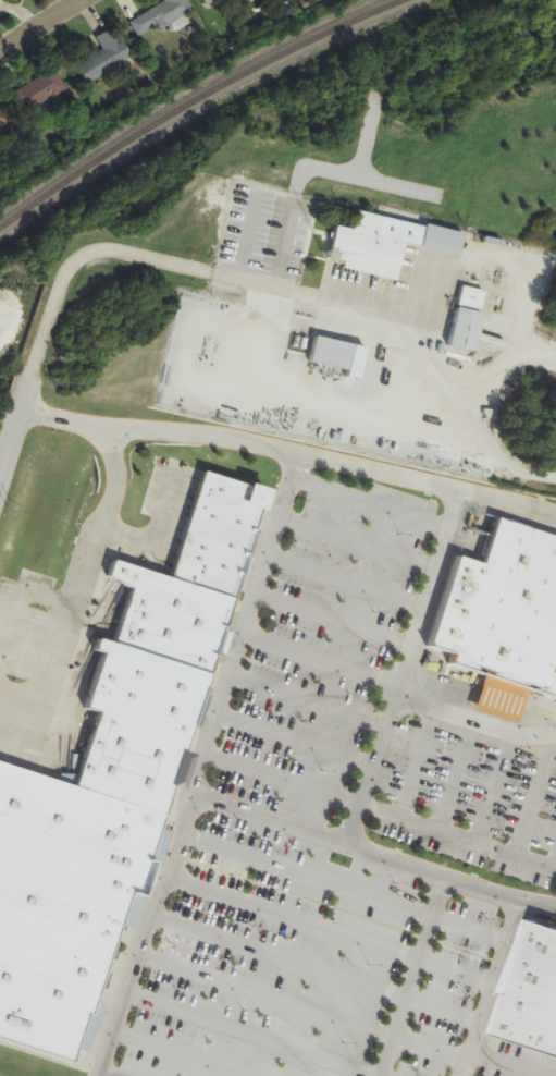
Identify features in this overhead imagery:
building: (210, 2)
building: (162, 16)
road: (39, 25)
building: (107, 57)
building: (40, 91)
railway: (194, 99)
building: (2, 120)
building: (443, 240)
building: (368, 248)
road: (176, 266)
building: (468, 318)
building: (332, 353)
road: (9, 439)
road: (289, 450)
building: (226, 546)
road: (84, 583)
building: (505, 610)
building: (180, 634)
road: (397, 694)
building: (157, 706)
road: (207, 766)
road: (368, 767)
building: (139, 783)
road: (456, 833)
road: (376, 853)
building: (65, 924)
road: (428, 978)
building: (532, 988)

